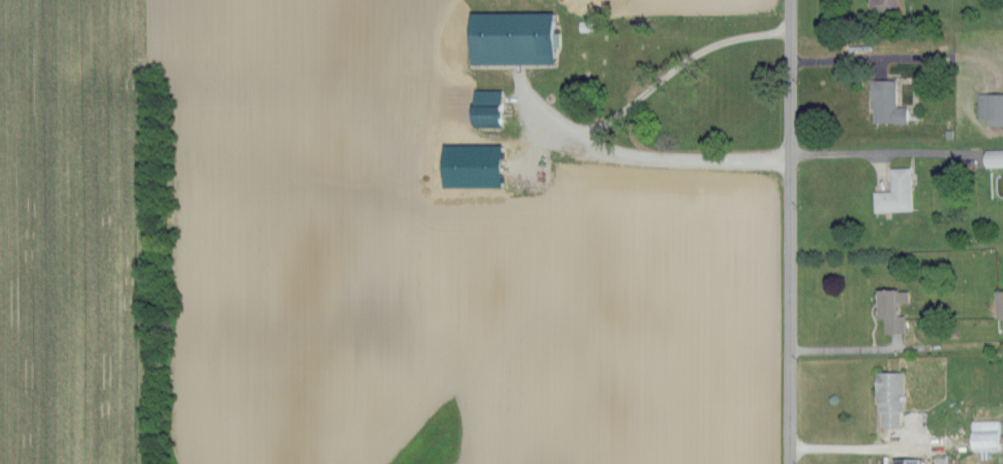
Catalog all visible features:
building: (881, 5)
building: (509, 37)
road: (864, 56)
building: (884, 102)
building: (483, 106)
building: (990, 108)
road: (580, 127)
road: (876, 153)
building: (992, 157)
building: (468, 164)
building: (893, 192)
road: (785, 232)
crop: (359, 253)
building: (997, 303)
building: (889, 308)
road: (836, 347)
building: (888, 397)
building: (983, 434)
road: (874, 446)
building: (905, 460)

